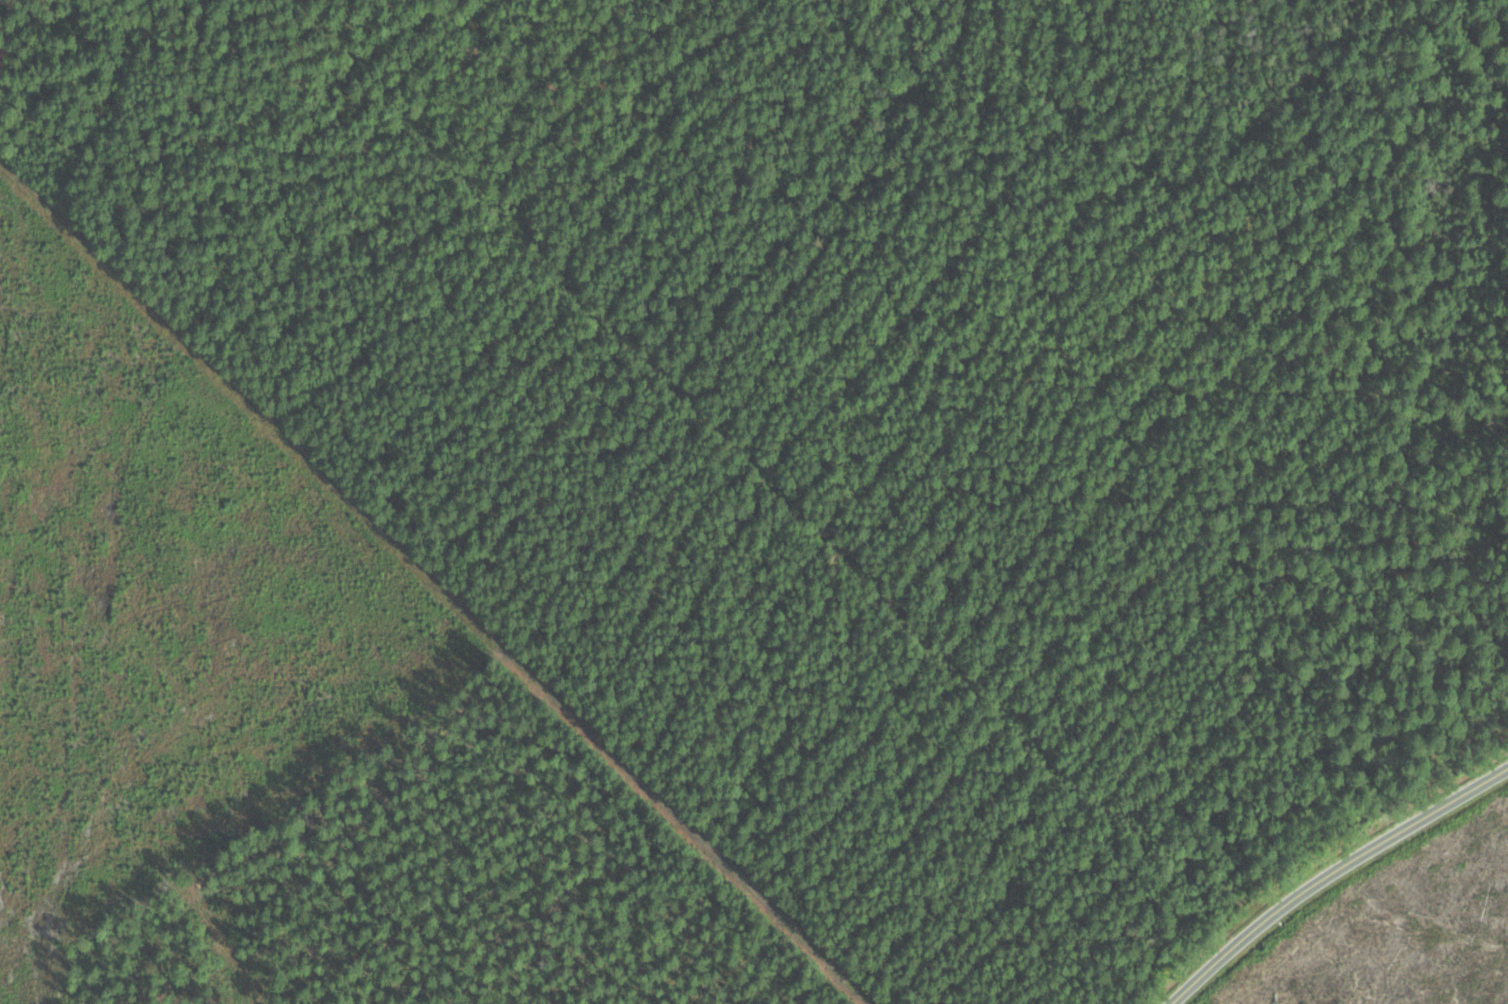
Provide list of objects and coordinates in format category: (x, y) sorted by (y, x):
road: (1329, 874)

